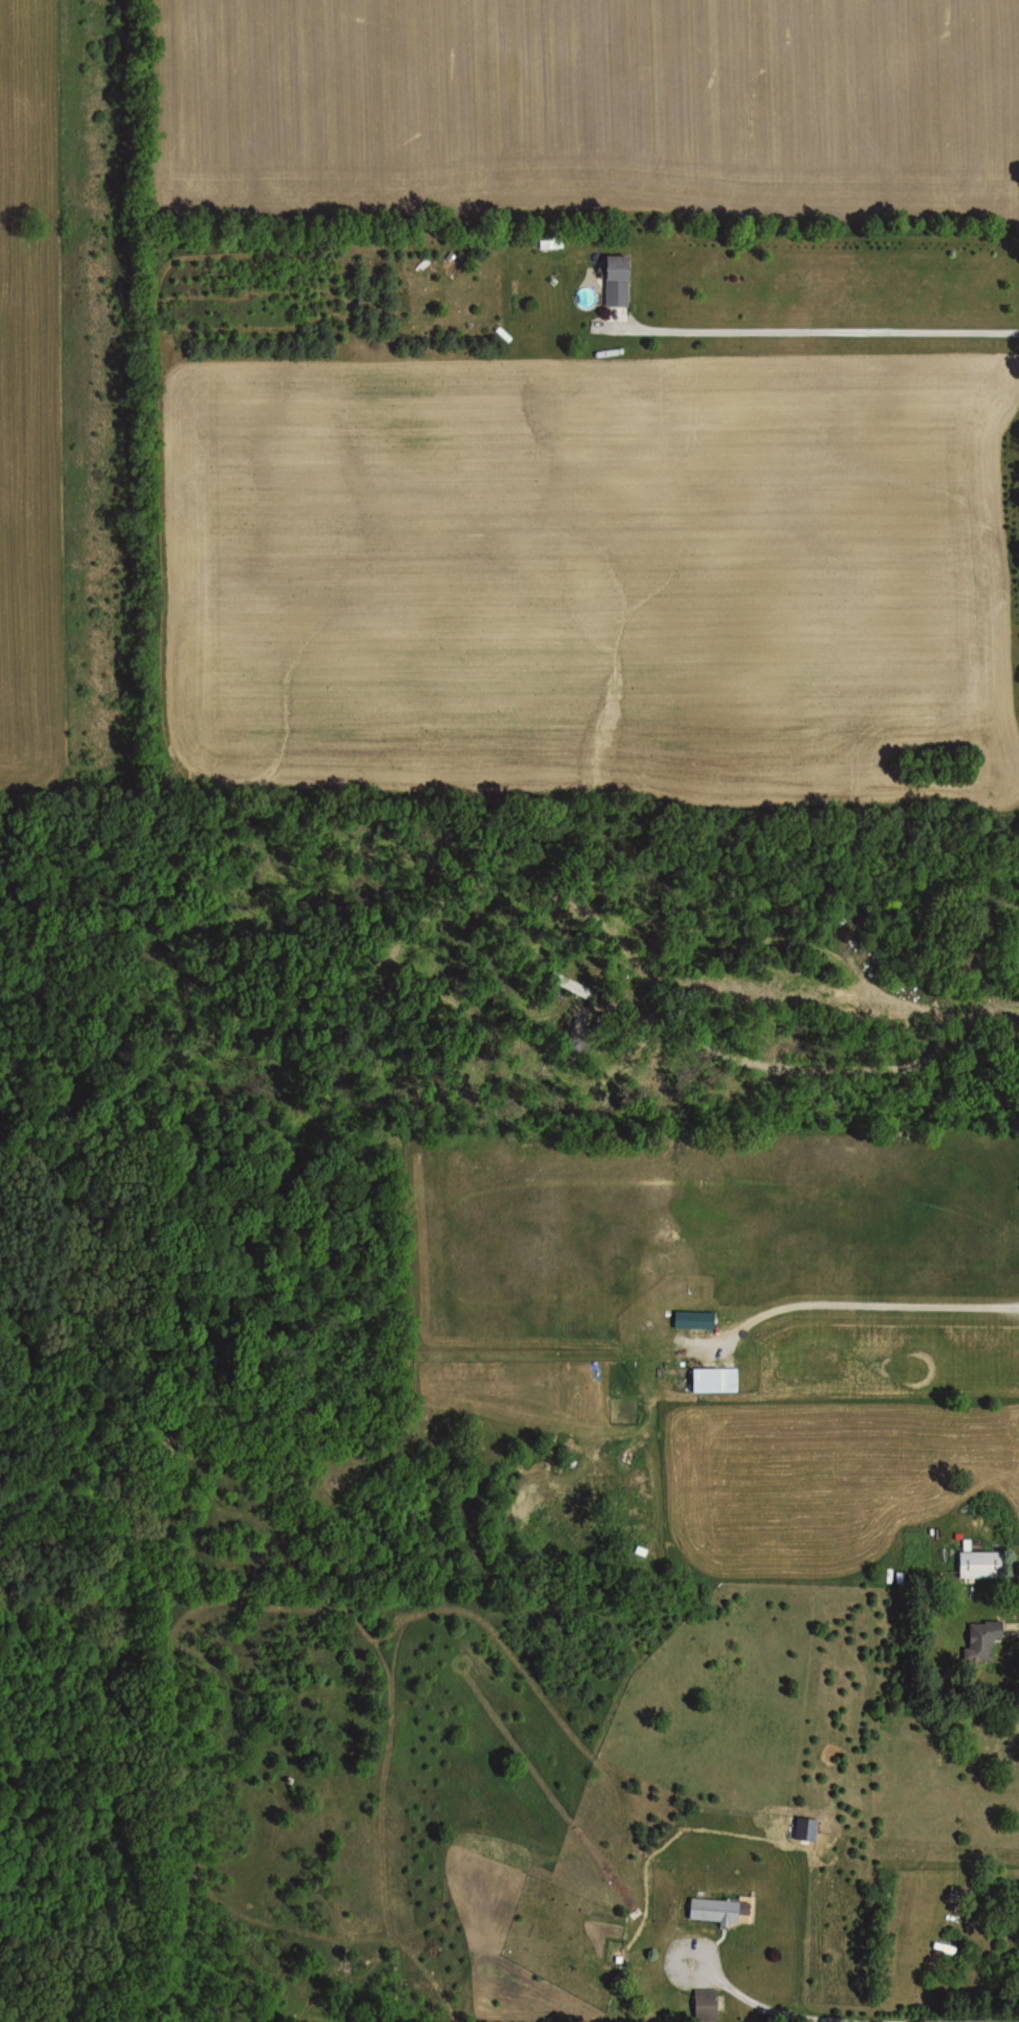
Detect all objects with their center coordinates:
building: (547, 241)
building: (612, 279)
road: (806, 334)
road: (858, 1295)
building: (691, 1319)
building: (710, 1380)
building: (975, 1564)
building: (977, 1639)
building: (1000, 1745)
building: (710, 1909)
building: (702, 2004)
road: (750, 2006)

